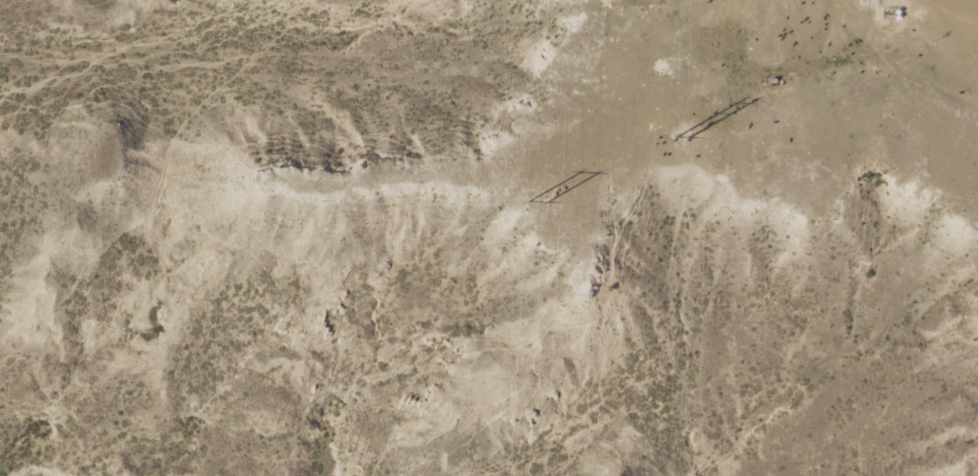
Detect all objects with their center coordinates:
power tower: (684, 140)
power tower: (541, 212)

